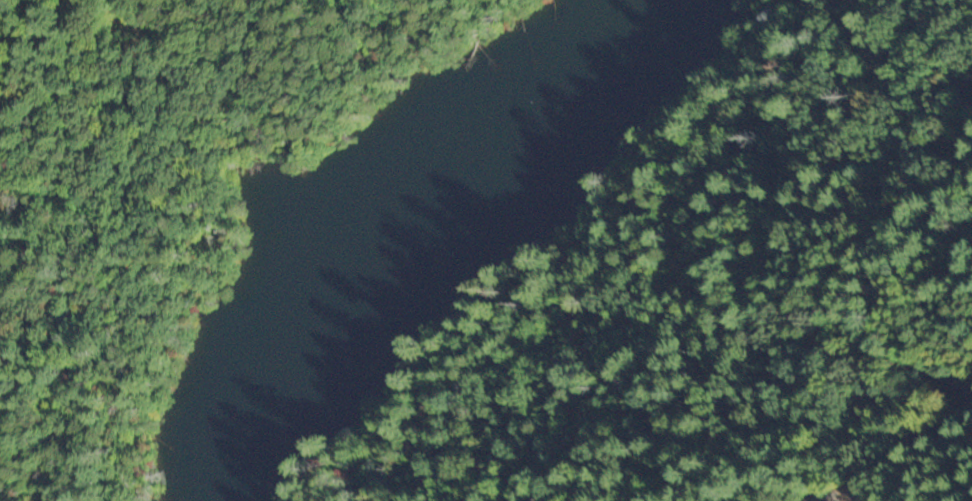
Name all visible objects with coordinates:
road: (848, 314)
road: (816, 495)

